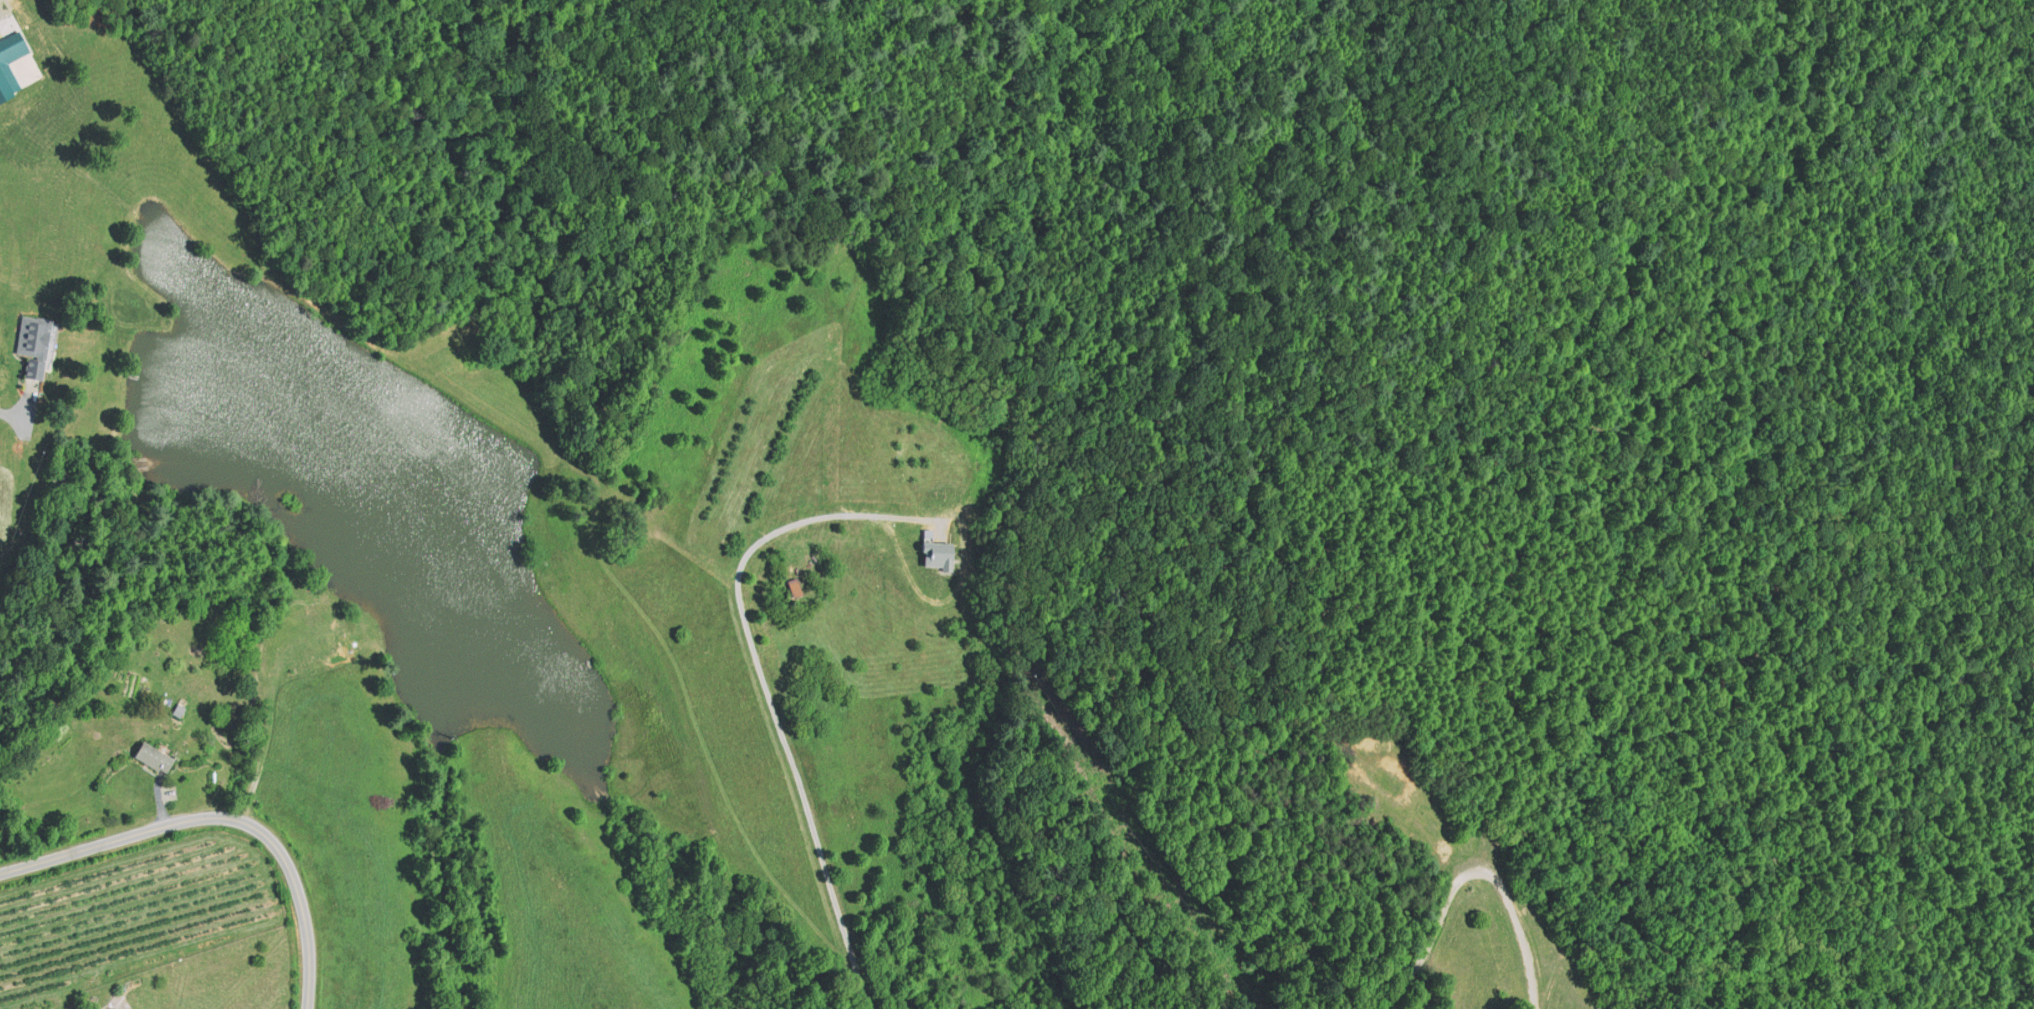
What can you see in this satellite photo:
building: (6, 75)
building: (36, 342)
road: (14, 417)
building: (940, 554)
building: (794, 587)
road: (766, 689)
building: (179, 710)
building: (154, 756)
road: (223, 817)
road: (1470, 871)

